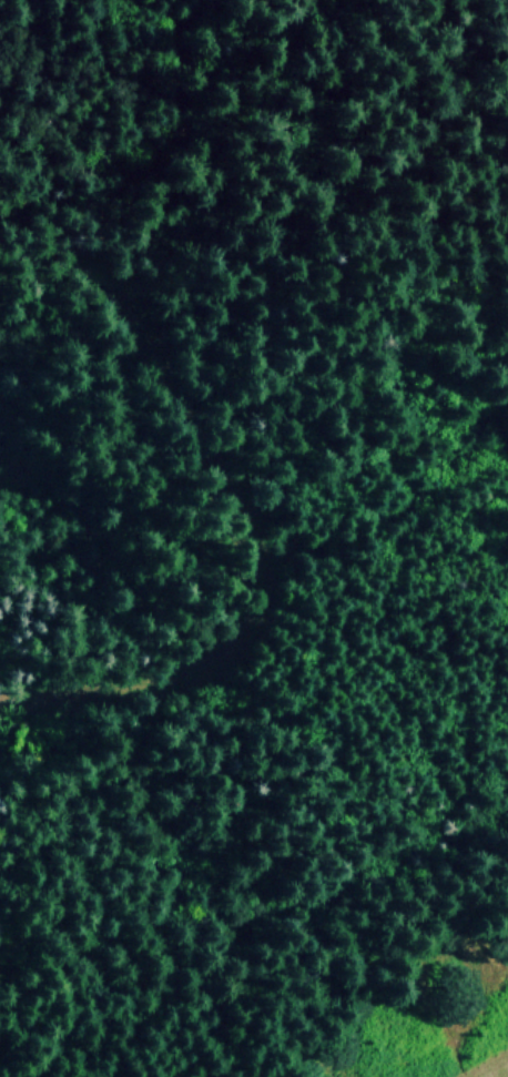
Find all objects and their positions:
crop: (254, 538)

